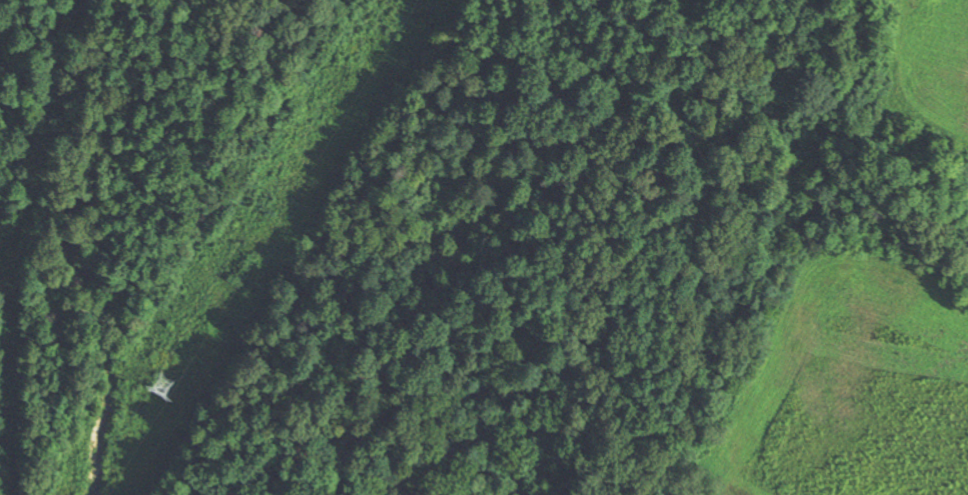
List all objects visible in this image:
power tower: (163, 385)

